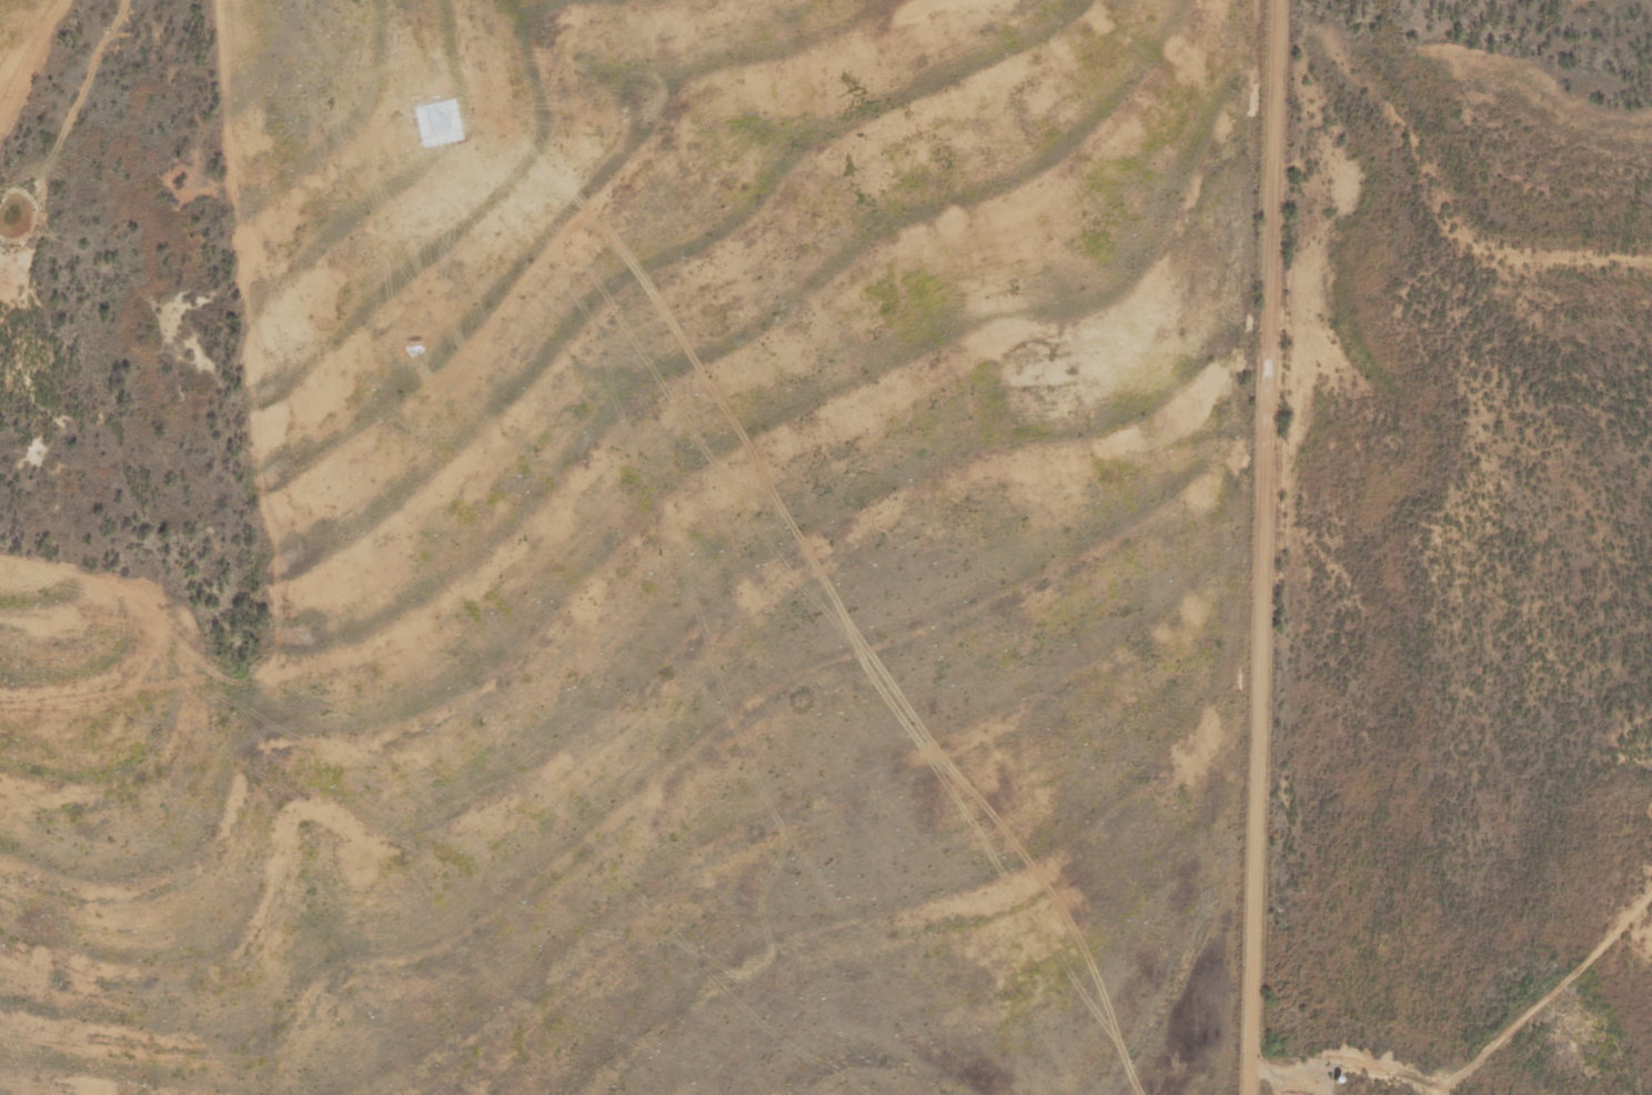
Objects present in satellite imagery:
road: (1267, 547)

